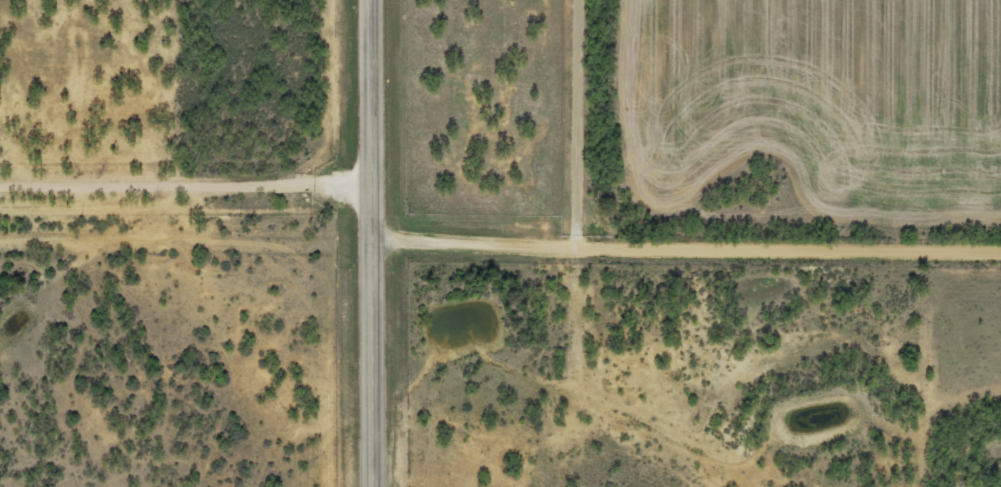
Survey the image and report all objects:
road: (605, 123)
road: (371, 243)
road: (686, 246)
road: (186, 249)

